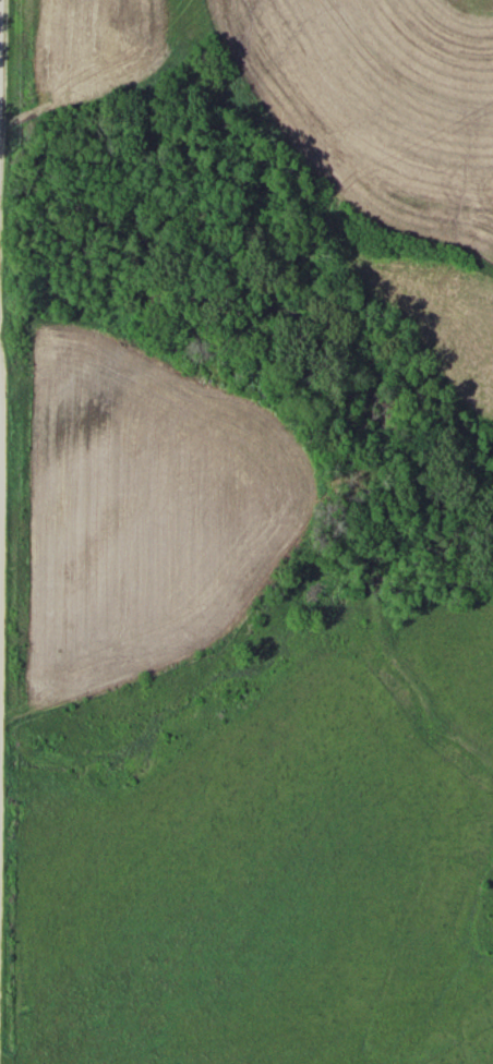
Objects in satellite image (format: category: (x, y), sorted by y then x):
road: (1, 77)
road: (0, 446)

